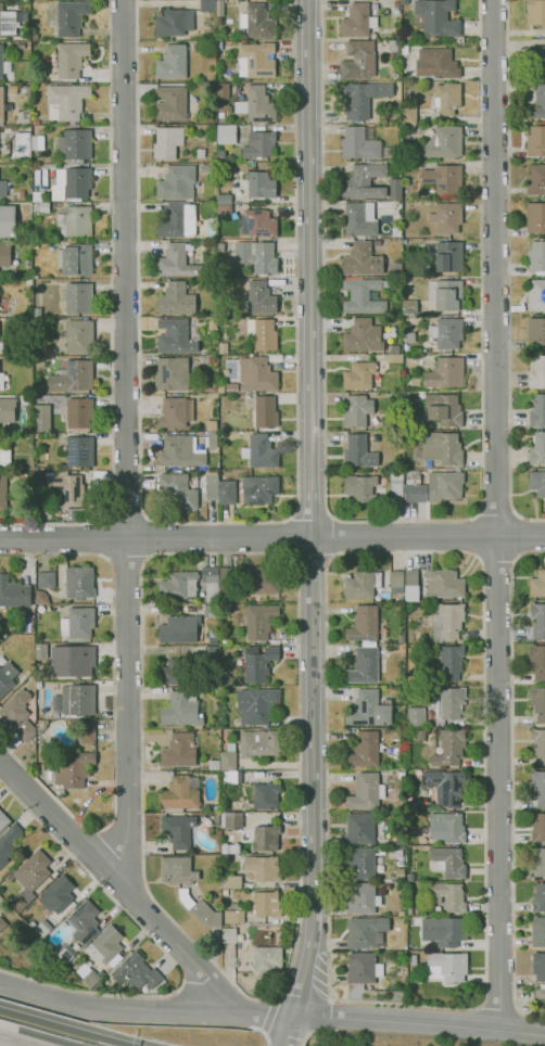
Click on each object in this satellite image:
building: (404, 2)
building: (396, 3)
building: (207, 5)
building: (535, 12)
building: (71, 17)
building: (438, 17)
building: (358, 21)
building: (7, 22)
building: (174, 22)
building: (257, 22)
building: (35, 37)
building: (27, 38)
building: (213, 42)
building: (221, 44)
building: (21, 46)
building: (394, 48)
building: (404, 50)
building: (71, 60)
building: (256, 60)
building: (358, 60)
building: (535, 61)
building: (173, 62)
building: (436, 63)
building: (3, 64)
building: (395, 76)
building: (223, 91)
building: (363, 98)
building: (447, 98)
building: (66, 101)
building: (1, 103)
building: (172, 103)
building: (396, 103)
building: (257, 104)
building: (537, 104)
building: (221, 107)
building: (424, 114)
building: (408, 116)
building: (24, 117)
building: (210, 118)
building: (36, 122)
building: (226, 133)
building: (38, 140)
building: (535, 141)
building: (167, 142)
building: (442, 143)
building: (23, 144)
building: (366, 144)
building: (75, 145)
building: (259, 145)
building: (201, 153)
building: (220, 155)
building: (205, 168)
building: (229, 173)
building: (443, 178)
building: (536, 179)
building: (364, 180)
building: (177, 182)
building: (72, 183)
building: (261, 184)
building: (3, 188)
building: (395, 189)
building: (22, 194)
building: (224, 199)
building: (42, 206)
building: (224, 208)
building: (447, 217)
building: (535, 217)
building: (360, 219)
building: (178, 220)
building: (8, 221)
building: (75, 221)
building: (256, 224)
building: (202, 242)
building: (35, 245)
building: (220, 247)
building: (5, 255)
building: (257, 256)
building: (448, 256)
building: (536, 257)
building: (75, 258)
building: (362, 259)
building: (177, 260)
building: (395, 269)
road: (508, 272)
building: (29, 281)
building: (223, 283)
building: (445, 294)
building: (536, 294)
building: (359, 295)
building: (77, 297)
building: (258, 298)
building: (176, 299)
building: (410, 307)
road: (111, 315)
building: (38, 323)
building: (212, 323)
building: (447, 332)
building: (536, 332)
building: (263, 333)
building: (78, 336)
building: (175, 336)
building: (362, 336)
building: (410, 336)
building: (2, 346)
building: (223, 348)
building: (394, 349)
building: (395, 358)
building: (212, 359)
building: (40, 361)
building: (536, 371)
building: (445, 373)
building: (173, 374)
building: (257, 374)
building: (358, 375)
building: (73, 377)
building: (2, 381)
building: (231, 387)
building: (102, 397)
building: (27, 400)
building: (398, 405)
building: (8, 408)
building: (444, 409)
building: (357, 410)
building: (537, 411)
building: (79, 412)
building: (176, 412)
building: (265, 412)
building: (42, 418)
building: (212, 425)
building: (223, 426)
building: (36, 435)
road: (125, 439)
building: (213, 439)
building: (406, 446)
building: (443, 448)
building: (537, 448)
building: (80, 451)
building: (178, 451)
building: (262, 451)
building: (359, 451)
building: (4, 457)
building: (396, 482)
building: (537, 482)
building: (447, 486)
building: (212, 487)
building: (359, 487)
building: (259, 488)
building: (414, 488)
building: (178, 489)
building: (66, 490)
building: (226, 492)
building: (3, 493)
road: (310, 508)
road: (497, 511)
road: (312, 513)
road: (497, 514)
building: (543, 515)
road: (128, 516)
road: (403, 521)
road: (217, 522)
road: (476, 536)
road: (520, 536)
road: (148, 537)
road: (271, 537)
road: (291, 537)
road: (335, 537)
road: (104, 540)
road: (173, 554)
road: (479, 560)
road: (496, 560)
road: (126, 562)
road: (312, 564)
building: (411, 577)
building: (261, 578)
building: (46, 579)
building: (396, 582)
building: (79, 583)
building: (211, 583)
building: (444, 583)
building: (227, 584)
building: (362, 584)
building: (537, 585)
building: (179, 586)
building: (14, 592)
building: (411, 594)
building: (41, 597)
building: (402, 598)
building: (257, 599)
building: (211, 610)
building: (537, 620)
building: (259, 621)
building: (447, 622)
building: (78, 623)
building: (364, 624)
building: (179, 629)
building: (401, 647)
building: (210, 651)
building: (72, 660)
building: (538, 661)
building: (451, 662)
building: (258, 663)
building: (365, 664)
building: (224, 669)
building: (178, 672)
building: (7, 677)
building: (227, 679)
building: (38, 684)
building: (78, 700)
building: (449, 702)
building: (538, 702)
building: (256, 705)
building: (15, 709)
building: (369, 709)
building: (182, 710)
road: (113, 712)
building: (416, 716)
building: (40, 726)
building: (25, 730)
building: (87, 731)
building: (259, 743)
building: (16, 744)
building: (538, 744)
building: (39, 745)
building: (449, 748)
building: (364, 750)
building: (178, 751)
building: (228, 757)
building: (214, 764)
building: (72, 768)
building: (401, 775)
building: (232, 776)
road: (511, 781)
building: (446, 787)
building: (538, 787)
building: (366, 791)
building: (56, 793)
building: (180, 794)
building: (266, 795)
building: (3, 819)
building: (233, 820)
building: (449, 826)
building: (359, 828)
building: (538, 828)
building: (178, 830)
building: (266, 838)
building: (8, 842)
building: (227, 847)
road: (89, 849)
building: (237, 858)
building: (447, 862)
building: (360, 863)
building: (538, 864)
building: (263, 867)
building: (178, 869)
building: (401, 873)
building: (410, 877)
building: (29, 878)
building: (232, 881)
road: (122, 888)
building: (56, 894)
building: (448, 896)
building: (362, 898)
building: (538, 898)
building: (266, 904)
building: (200, 909)
building: (410, 911)
building: (233, 916)
building: (84, 920)
building: (2, 922)
building: (31, 924)
building: (41, 928)
building: (7, 931)
building: (444, 931)
building: (367, 932)
building: (538, 932)
building: (229, 935)
building: (104, 945)
road: (162, 948)
building: (66, 954)
building: (266, 959)
building: (414, 960)
road: (195, 966)
building: (447, 966)
building: (538, 966)
building: (362, 967)
road: (1, 973)
building: (137, 973)
building: (87, 975)
building: (540, 993)
road: (275, 996)
road: (497, 1004)
road: (145, 1009)
road: (268, 1013)
road: (419, 1023)
road: (68, 1028)
road: (289, 1031)
road: (262, 1032)
road: (263, 1034)
road: (306, 1035)
road: (15, 1041)

